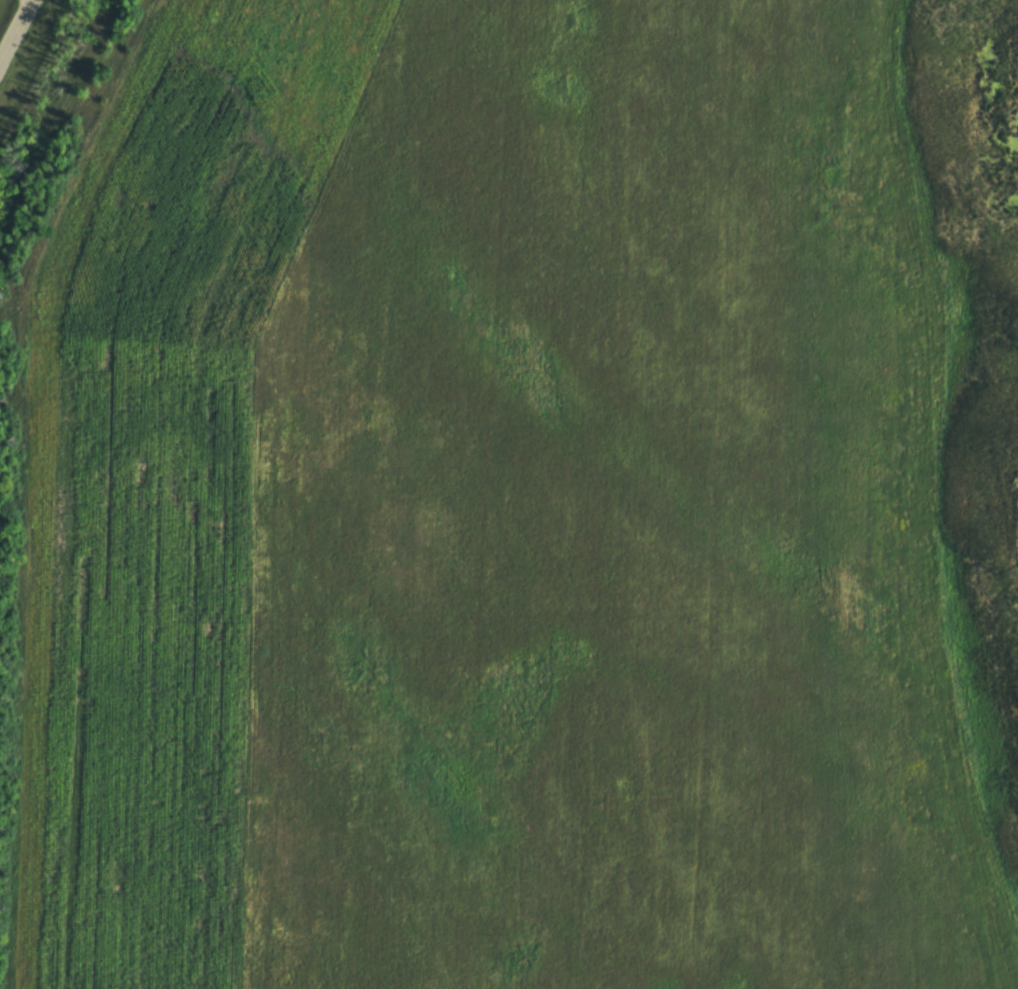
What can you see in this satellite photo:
road: (18, 35)

